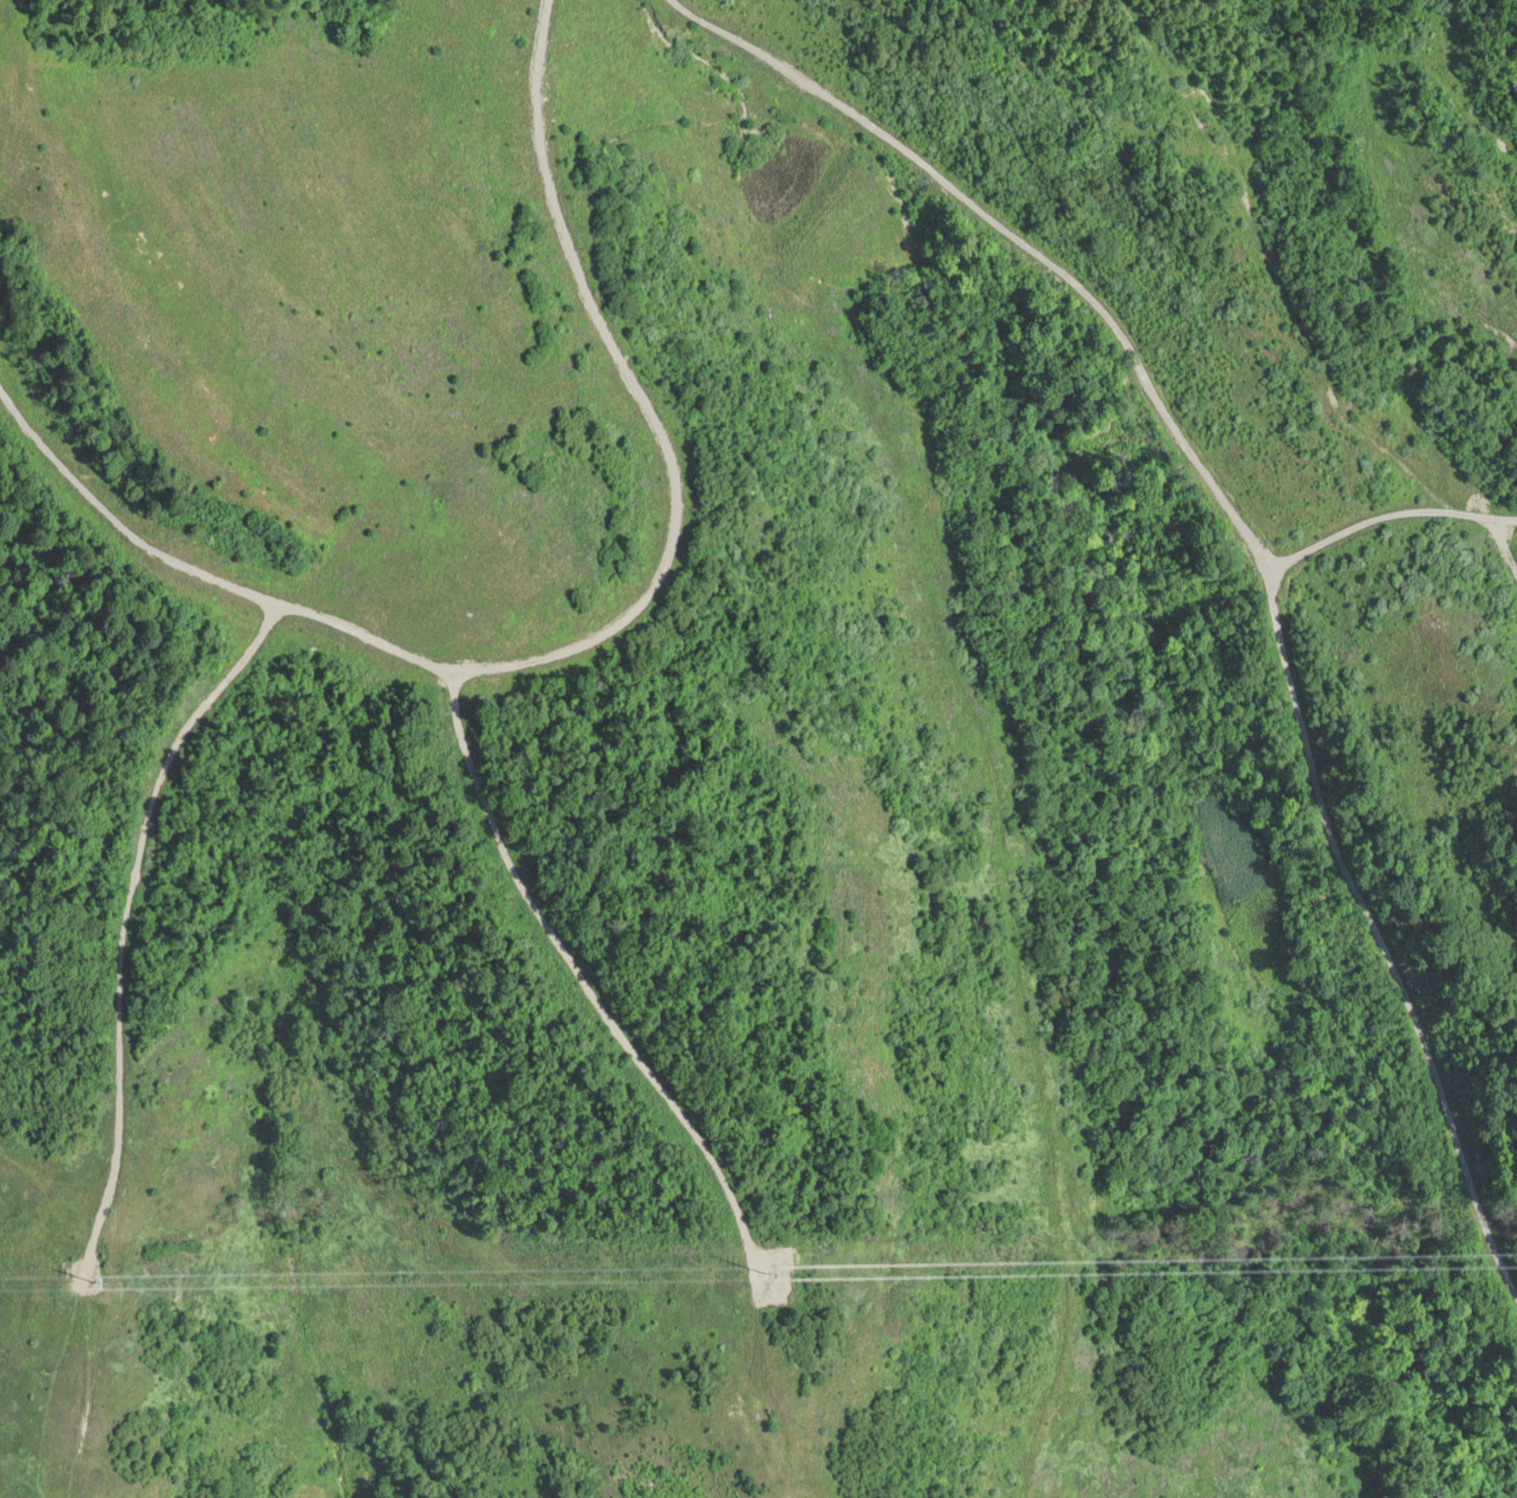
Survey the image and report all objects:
road: (984, 167)
power tower: (776, 1266)
power tower: (105, 1272)

